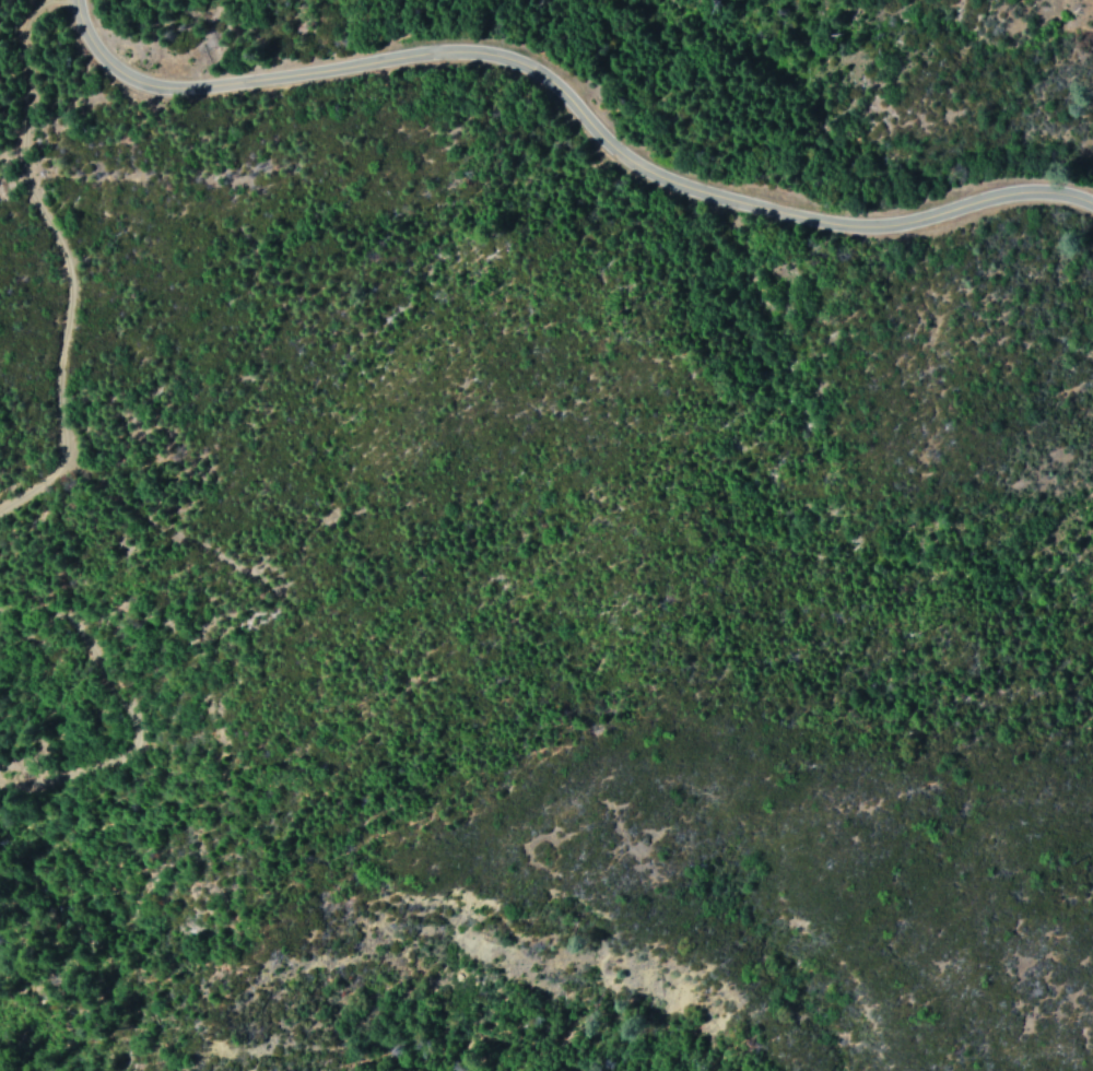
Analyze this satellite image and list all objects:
road: (572, 104)

